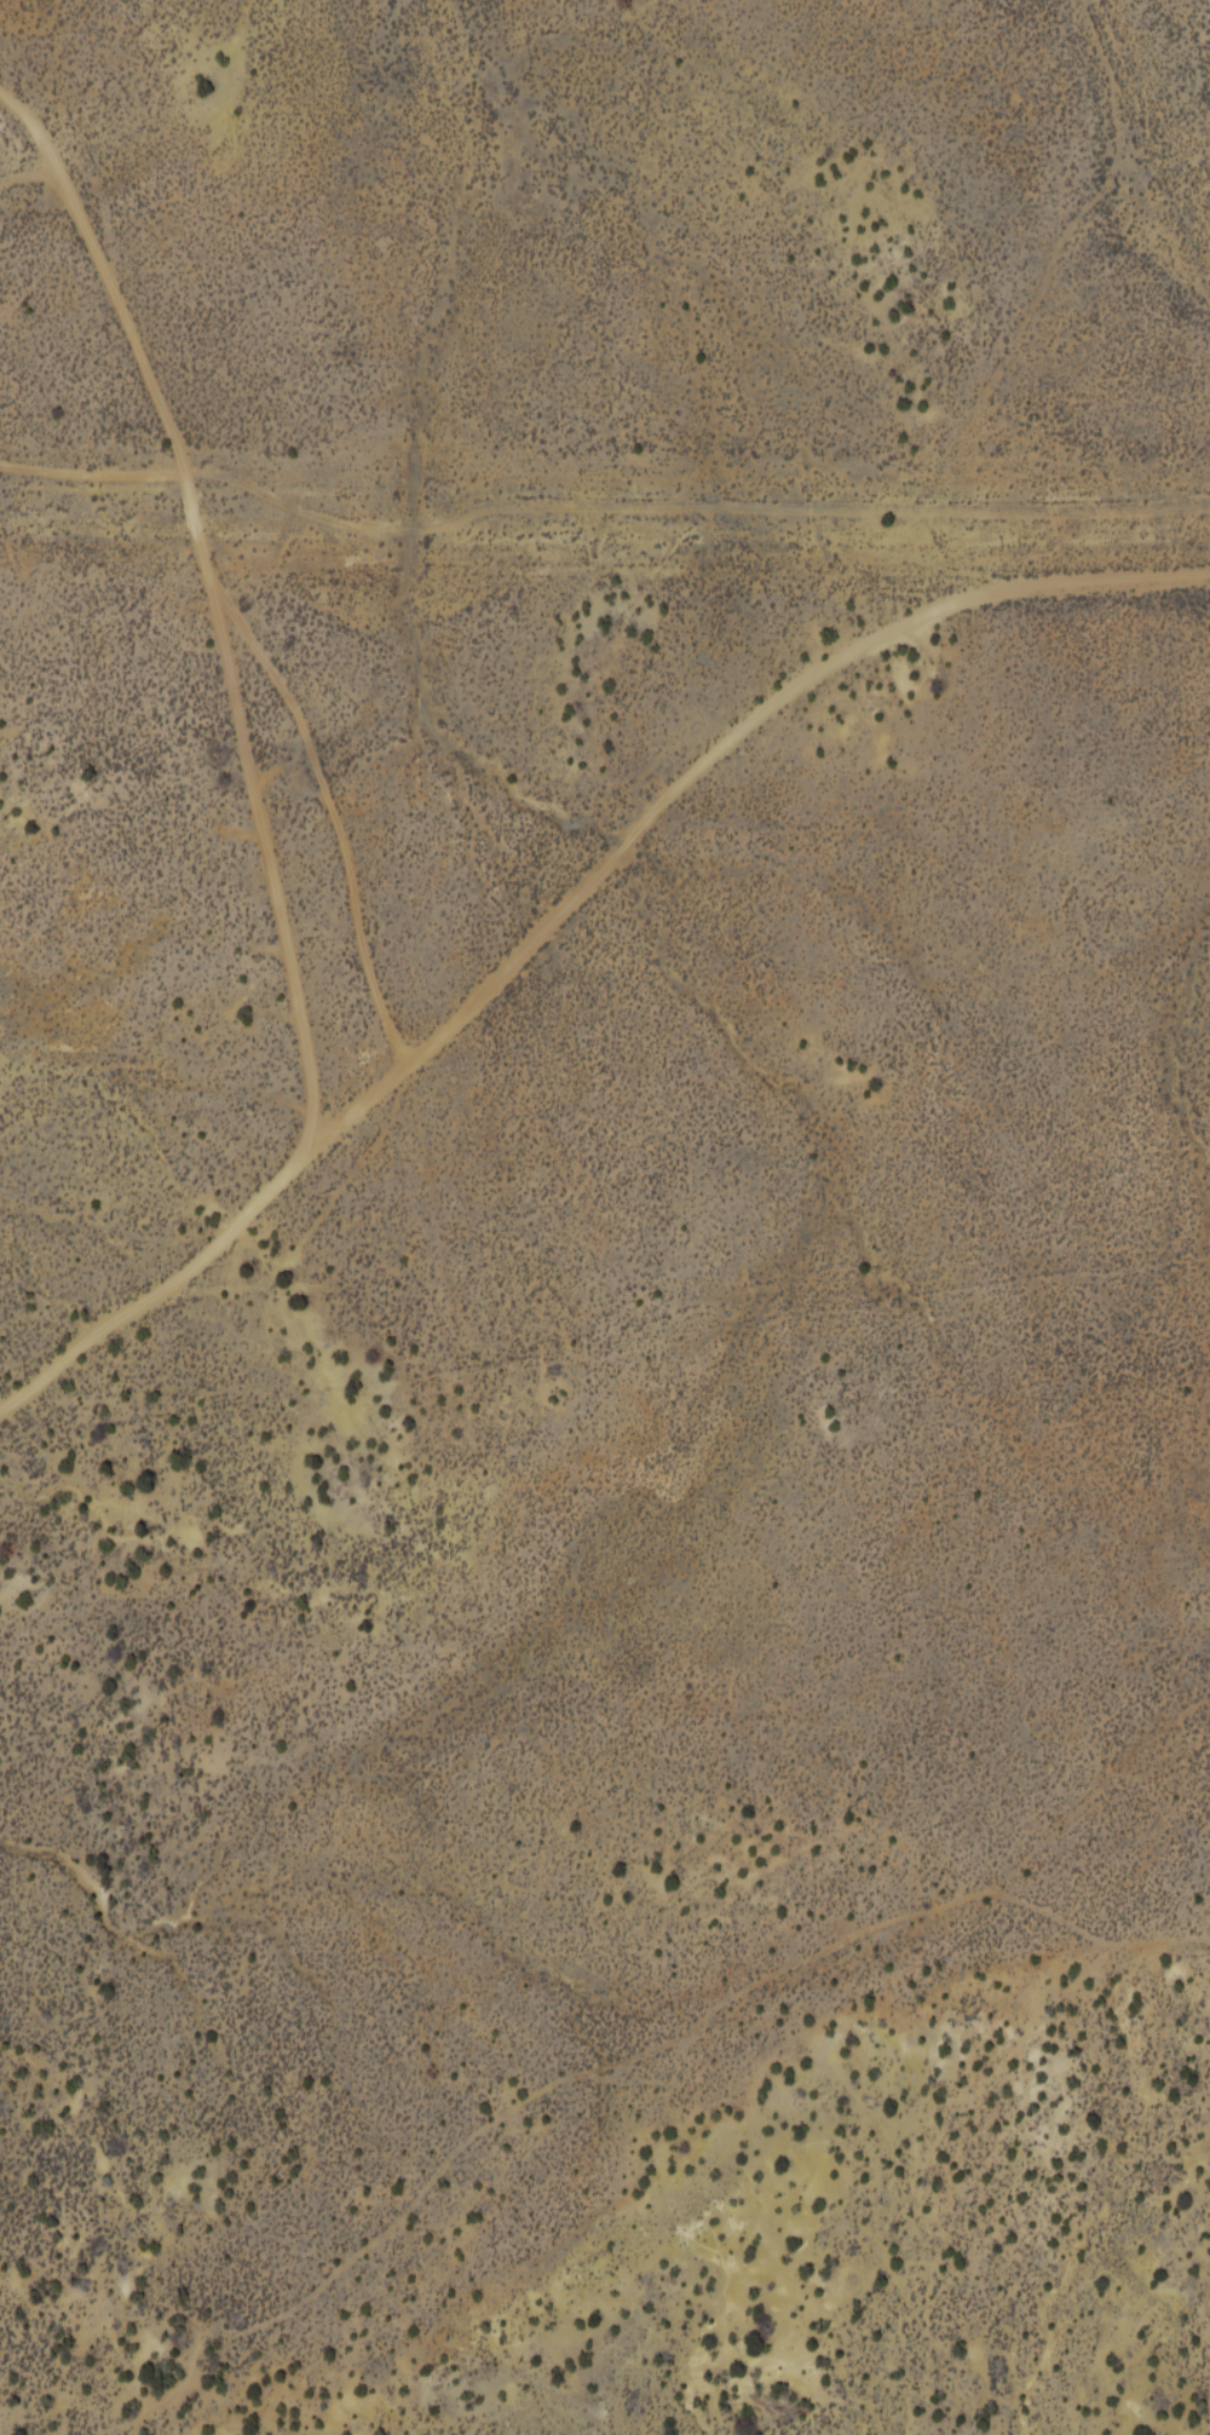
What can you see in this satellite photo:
road: (212, 553)
road: (756, 716)
road: (213, 1243)

